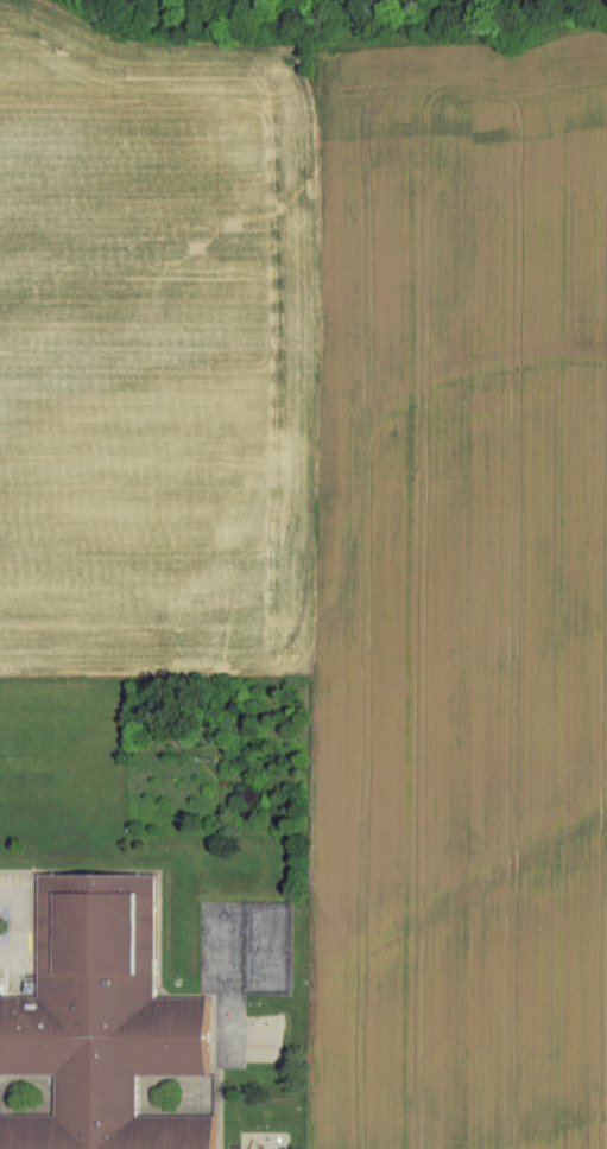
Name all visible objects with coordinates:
road: (17, 904)
building: (99, 1022)

